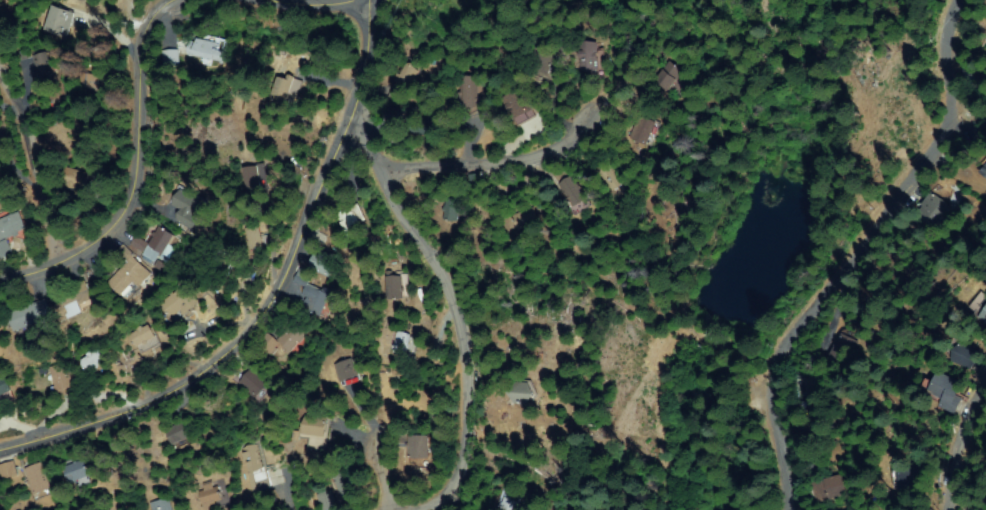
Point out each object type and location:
road: (355, 0)
building: (58, 22)
building: (205, 48)
building: (169, 58)
building: (591, 58)
building: (548, 63)
building: (319, 64)
building: (45, 65)
building: (668, 75)
building: (408, 76)
building: (92, 82)
building: (282, 86)
building: (470, 94)
building: (522, 107)
building: (395, 115)
building: (432, 122)
building: (644, 130)
road: (482, 159)
road: (32, 168)
building: (982, 169)
road: (137, 174)
building: (253, 177)
building: (610, 178)
building: (77, 179)
building: (573, 194)
building: (187, 206)
building: (450, 209)
building: (929, 210)
building: (524, 219)
building: (352, 221)
building: (11, 226)
building: (255, 237)
building: (157, 245)
building: (3, 250)
road: (848, 253)
building: (325, 263)
building: (216, 271)
building: (129, 276)
building: (395, 288)
road: (267, 297)
building: (74, 300)
building: (317, 300)
building: (181, 303)
building: (28, 315)
building: (983, 316)
road: (428, 319)
building: (144, 335)
building: (294, 336)
building: (266, 343)
building: (403, 344)
building: (838, 349)
building: (962, 354)
building: (94, 358)
building: (348, 372)
building: (814, 377)
building: (62, 379)
road: (737, 381)
building: (256, 383)
building: (5, 386)
building: (943, 392)
building: (520, 394)
building: (814, 412)
building: (315, 426)
building: (179, 432)
road: (953, 437)
building: (419, 447)
building: (252, 459)
road: (377, 465)
building: (9, 466)
building: (77, 471)
building: (906, 477)
building: (37, 478)
building: (345, 484)
building: (823, 488)
building: (211, 498)
building: (326, 500)
building: (513, 500)
building: (160, 505)

